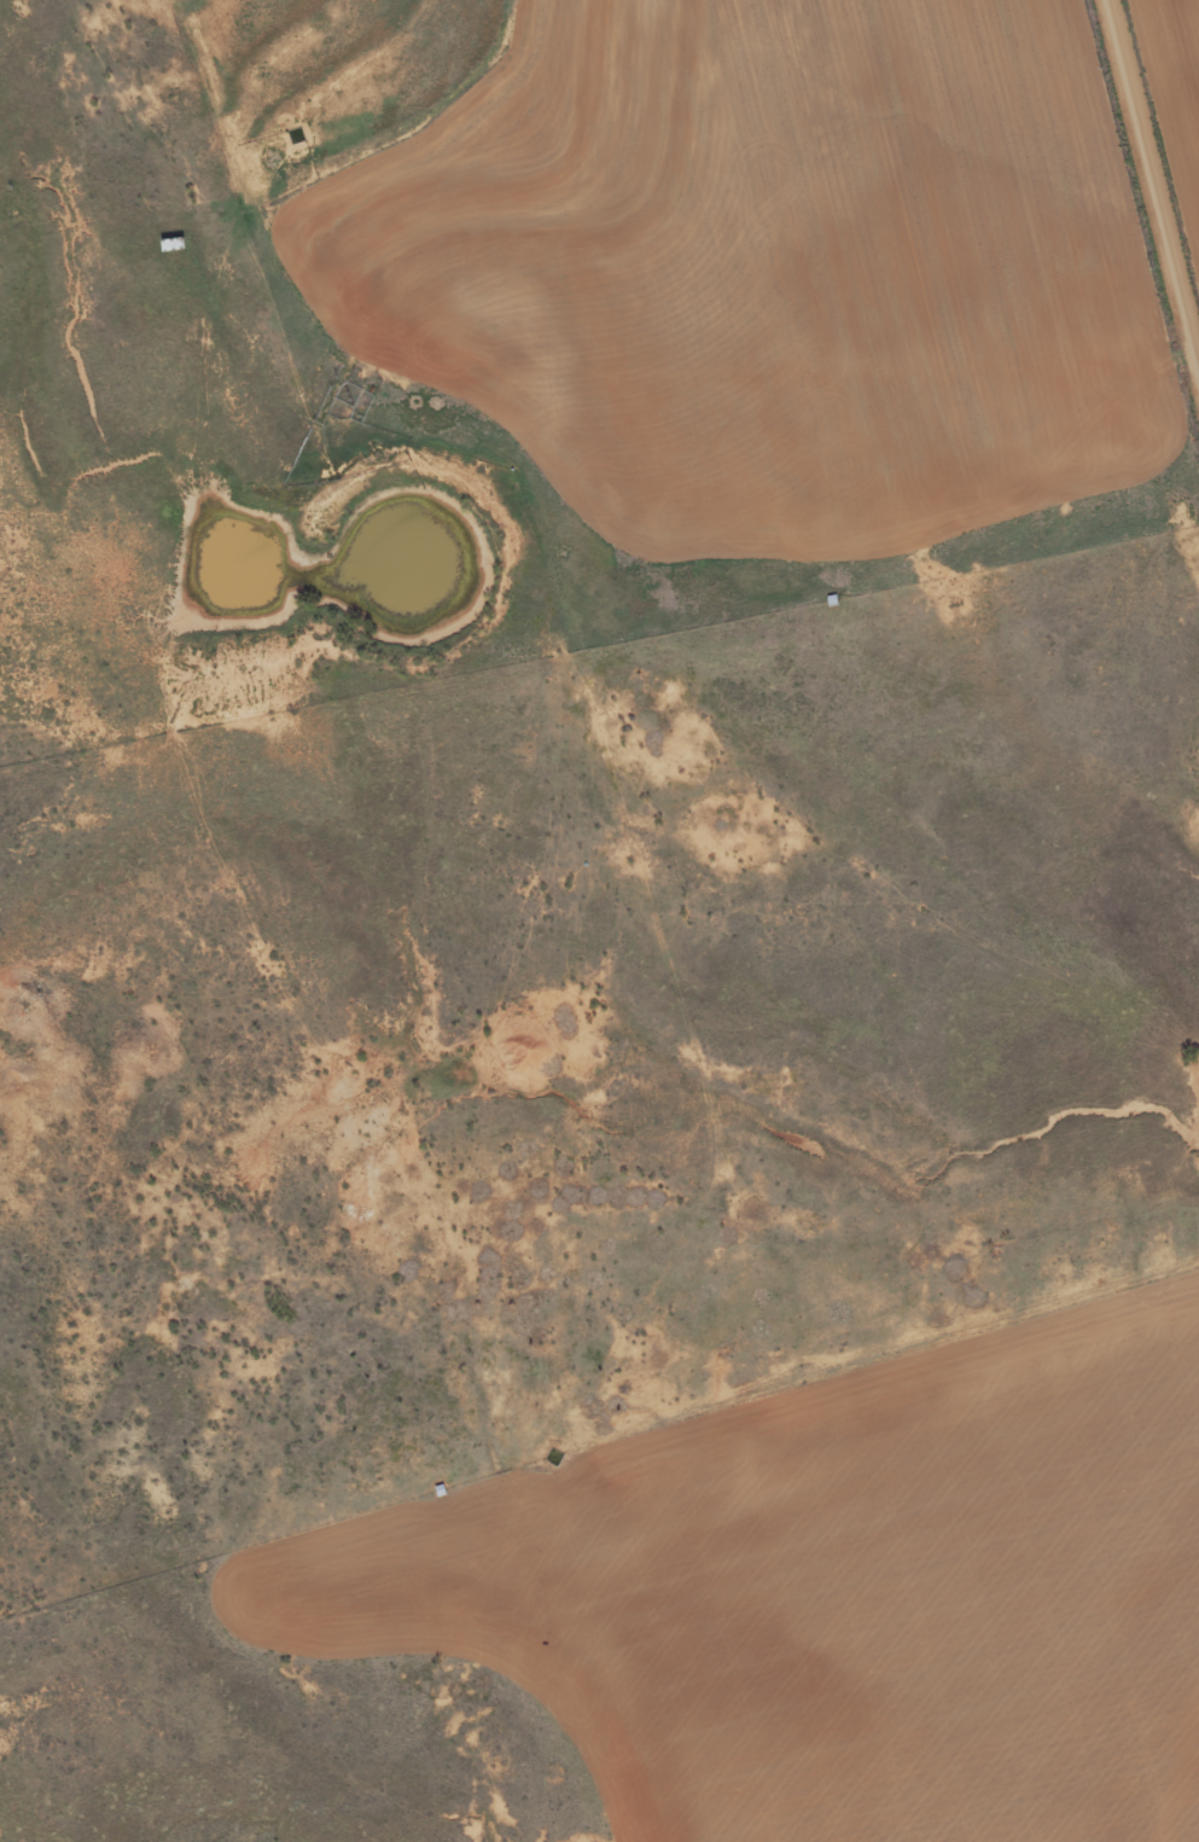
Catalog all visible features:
road: (1152, 186)

